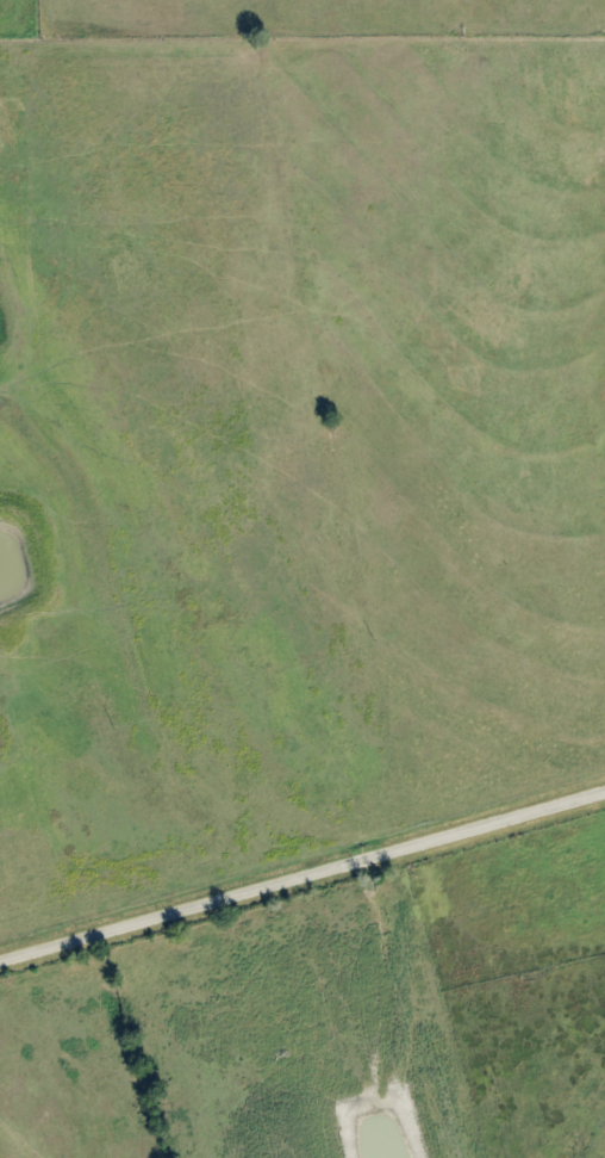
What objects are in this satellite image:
road: (302, 873)

